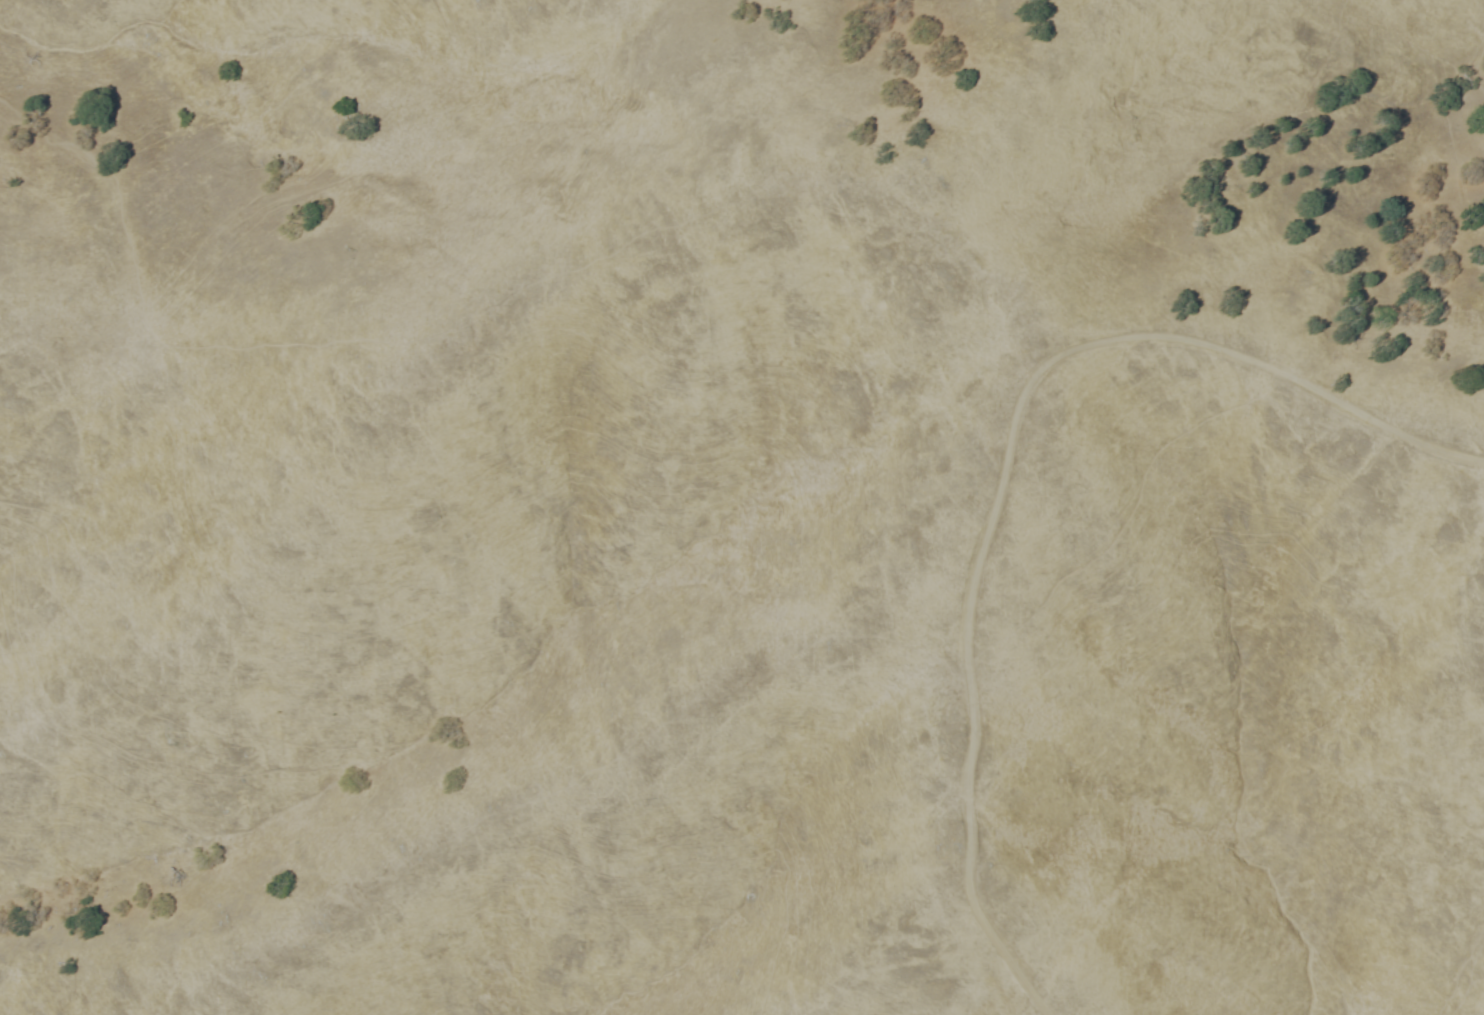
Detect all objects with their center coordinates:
road: (1006, 464)

